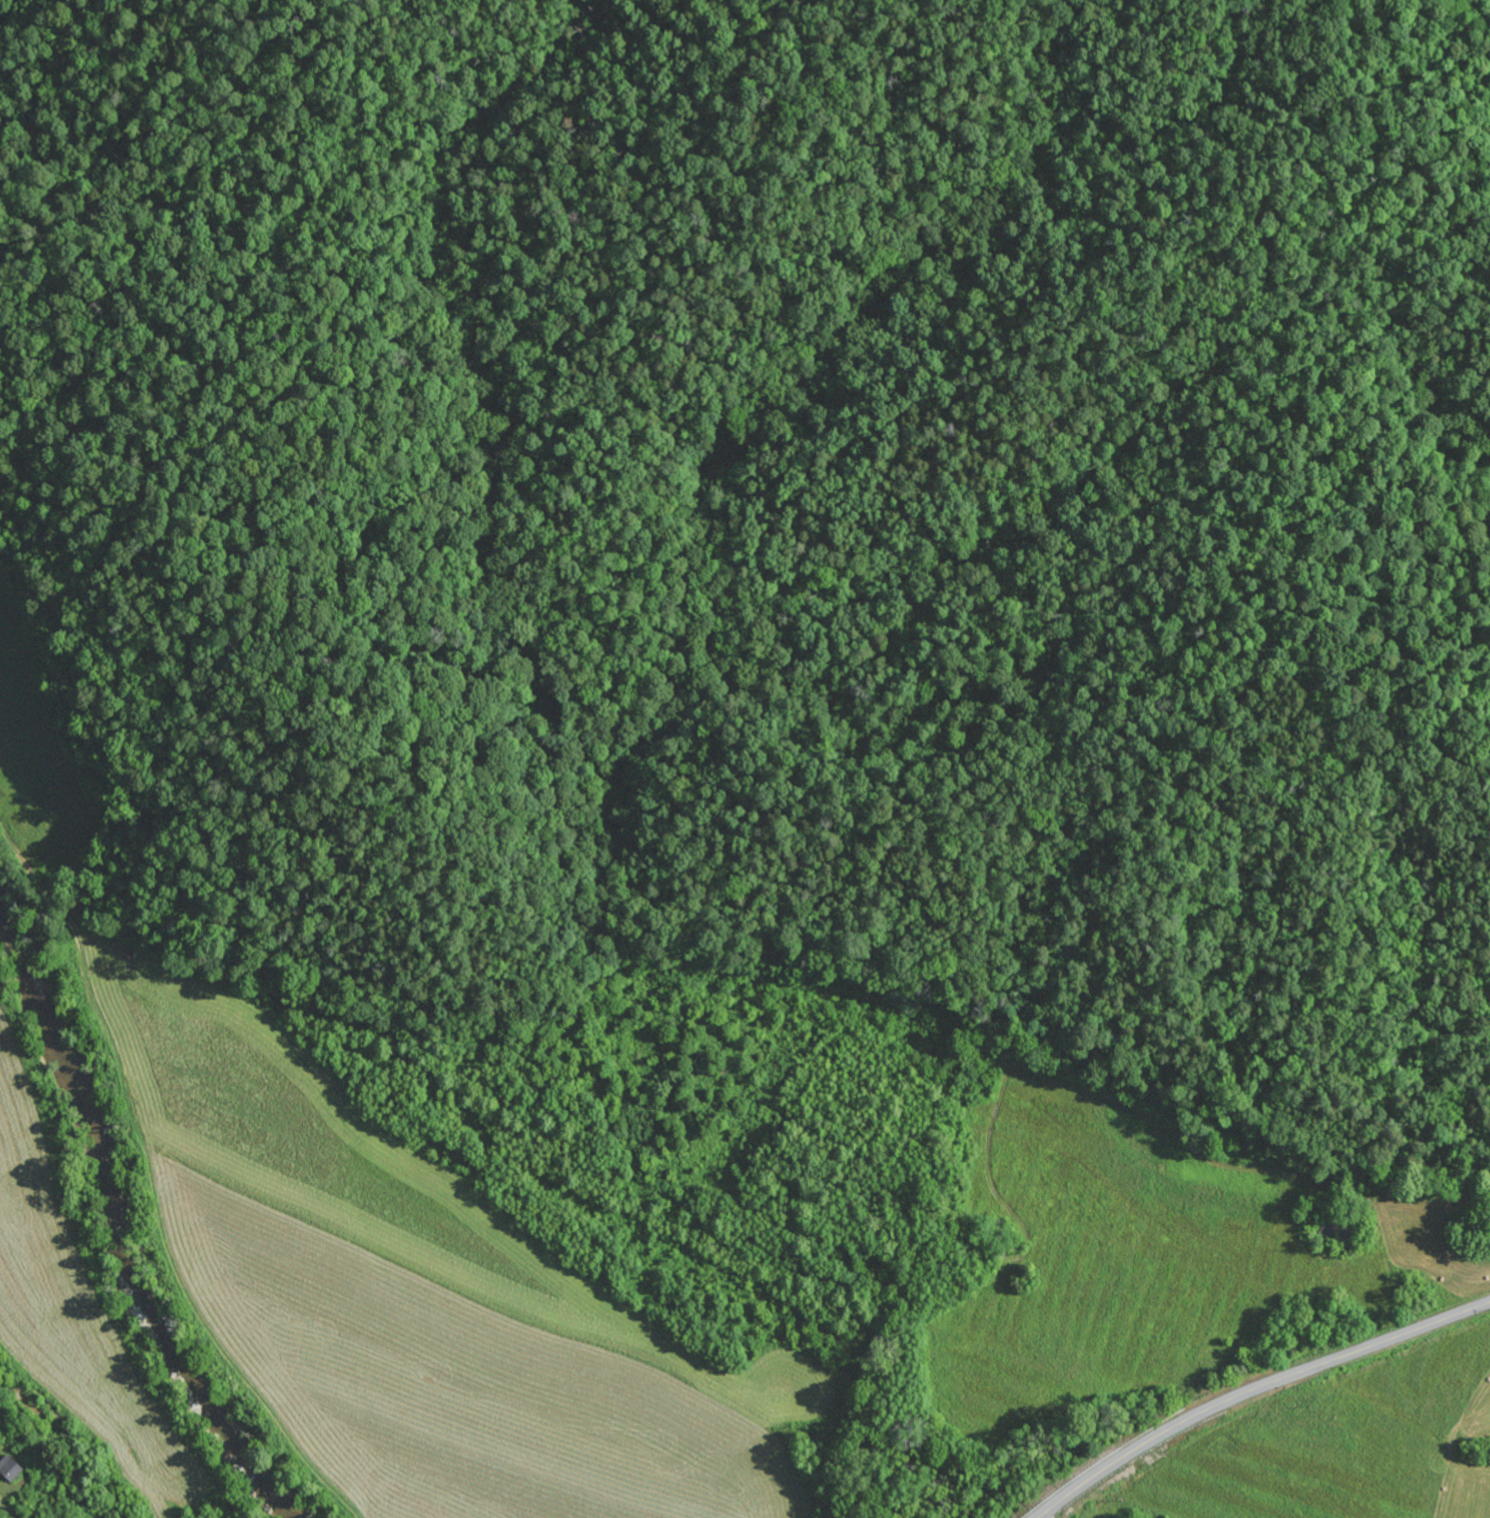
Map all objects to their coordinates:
road: (9, 799)
road: (164, 1163)
road: (1254, 1390)
building: (8, 1471)

